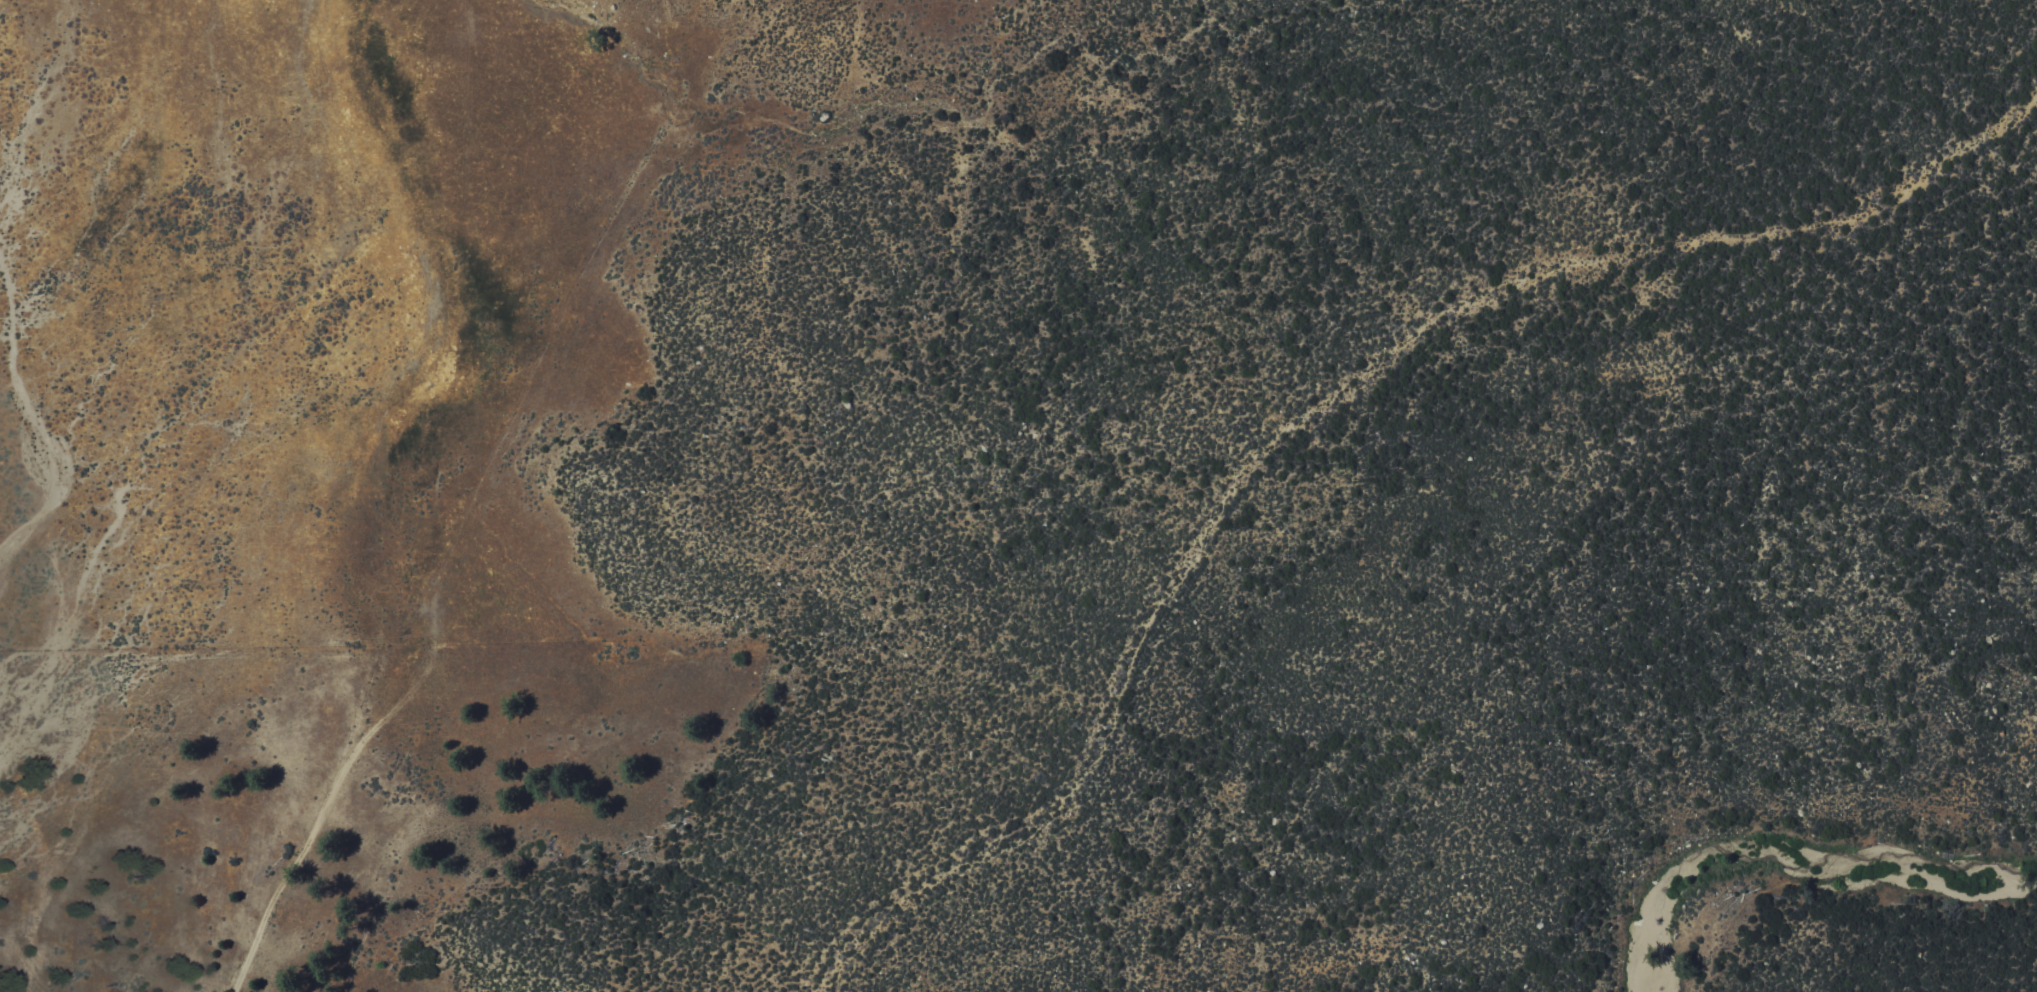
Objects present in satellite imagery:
road: (322, 811)

